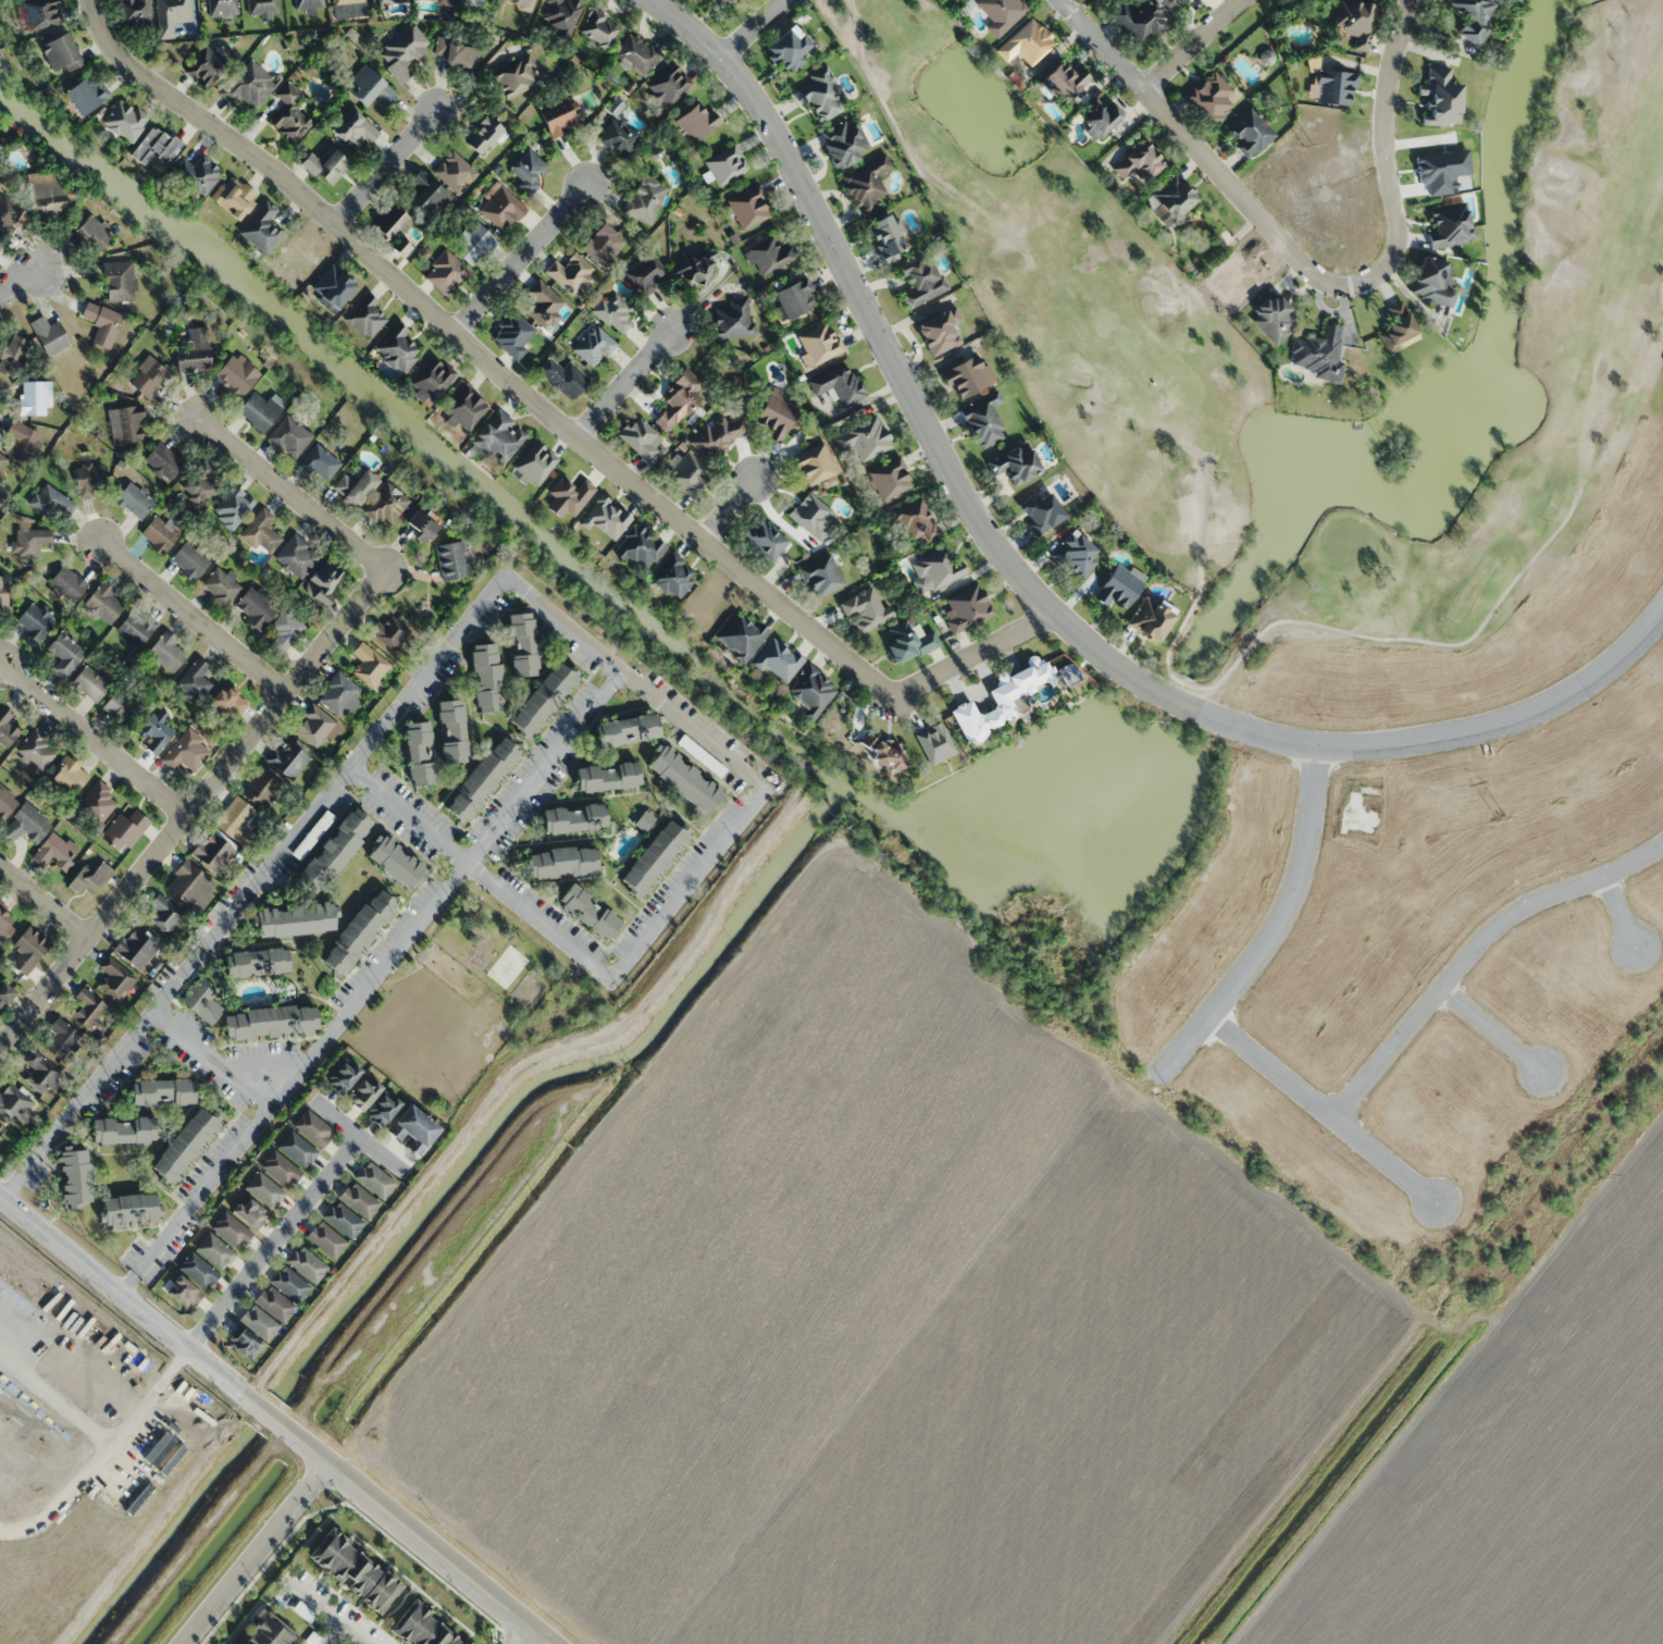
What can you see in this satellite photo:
building: (474, 0)
building: (392, 1)
building: (1167, 1)
building: (446, 2)
building: (519, 2)
building: (731, 2)
building: (309, 4)
building: (261, 7)
building: (222, 8)
building: (348, 8)
building: (135, 12)
building: (1000, 13)
building: (172, 14)
building: (42, 15)
building: (562, 15)
building: (1473, 17)
building: (1138, 21)
building: (1354, 21)
road: (758, 28)
building: (599, 29)
building: (1026, 42)
road: (1194, 45)
building: (787, 49)
building: (402, 51)
building: (60, 52)
building: (459, 53)
building: (636, 54)
building: (206, 66)
building: (517, 76)
building: (1062, 83)
building: (248, 85)
building: (669, 85)
building: (1335, 86)
building: (368, 87)
building: (85, 94)
building: (822, 95)
road: (879, 95)
building: (1209, 96)
building: (1443, 97)
building: (289, 114)
building: (556, 116)
building: (1099, 119)
building: (125, 121)
building: (696, 121)
building: (355, 132)
building: (1249, 133)
building: (482, 135)
building: (619, 136)
building: (842, 144)
power tower: (1308, 145)
building: (157, 147)
building: (1139, 163)
building: (725, 165)
building: (326, 166)
road: (386, 169)
building: (526, 170)
building: (455, 172)
building: (198, 174)
building: (865, 185)
building: (46, 195)
building: (233, 197)
building: (1171, 197)
building: (430, 198)
building: (645, 199)
building: (499, 208)
building: (748, 208)
building: (9, 212)
building: (1450, 224)
building: (261, 228)
building: (394, 228)
building: (90, 233)
building: (885, 238)
building: (473, 244)
building: (603, 244)
building: (770, 256)
road: (521, 260)
building: (694, 267)
road: (1305, 270)
building: (445, 273)
building: (571, 273)
building: (646, 273)
road: (22, 279)
building: (119, 281)
building: (920, 281)
building: (1431, 282)
building: (331, 287)
building: (795, 298)
building: (544, 305)
building: (613, 311)
building: (367, 317)
building: (1273, 317)
building: (734, 320)
building: (101, 324)
building: (1397, 330)
building: (940, 332)
building: (512, 334)
building: (48, 335)
building: (818, 344)
building: (594, 346)
building: (396, 348)
building: (193, 353)
building: (1320, 353)
building: (13, 356)
building: (236, 374)
building: (967, 376)
building: (563, 378)
building: (148, 379)
building: (432, 380)
building: (839, 384)
road: (624, 386)
building: (34, 398)
building: (679, 399)
building: (464, 408)
building: (261, 410)
road: (547, 415)
building: (774, 417)
building: (983, 421)
building: (125, 425)
building: (289, 436)
building: (498, 437)
building: (641, 437)
building: (717, 437)
building: (864, 440)
building: (21, 442)
power tower: (1397, 458)
building: (2, 460)
building: (163, 460)
building: (320, 463)
building: (1014, 463)
building: (534, 465)
building: (815, 465)
building: (687, 474)
building: (88, 479)
building: (890, 480)
building: (199, 485)
building: (355, 486)
road: (288, 489)
building: (134, 500)
building: (50, 502)
building: (386, 506)
building: (233, 508)
road: (728, 511)
building: (1042, 512)
building: (811, 517)
building: (605, 518)
building: (915, 521)
building: (261, 533)
building: (159, 535)
building: (764, 540)
building: (29, 542)
building: (638, 547)
building: (1073, 555)
building: (297, 556)
building: (189, 560)
building: (452, 560)
building: (935, 572)
building: (672, 577)
building: (821, 577)
building: (323, 582)
building: (67, 583)
building: (221, 586)
building: (1119, 586)
road: (1032, 590)
building: (3, 592)
building: (103, 604)
building: (965, 608)
building: (256, 609)
building: (865, 611)
road: (193, 615)
building: (35, 620)
building: (1150, 620)
road: (1299, 620)
building: (136, 627)
building: (284, 631)
building: (390, 633)
building: (741, 636)
building: (908, 642)
building: (522, 643)
building: (66, 653)
building: (166, 653)
building: (777, 660)
building: (369, 664)
building: (486, 677)
building: (195, 681)
building: (91, 682)
building: (811, 693)
building: (338, 694)
building: (544, 697)
building: (1001, 701)
building: (227, 703)
building: (123, 707)
building: (314, 728)
building: (8, 729)
building: (626, 729)
building: (451, 730)
building: (153, 732)
road: (95, 737)
building: (931, 745)
building: (37, 750)
building: (187, 752)
building: (419, 752)
building: (882, 753)
building: (702, 754)
building: (287, 761)
building: (607, 775)
building: (66, 777)
building: (482, 778)
building: (684, 778)
road: (757, 787)
building: (261, 788)
building: (5, 802)
building: (97, 804)
road: (193, 808)
building: (574, 817)
power tower: (1500, 817)
building: (644, 819)
building: (236, 821)
building: (26, 824)
building: (124, 829)
building: (312, 833)
building: (334, 850)
building: (54, 851)
building: (212, 852)
building: (654, 856)
building: (395, 861)
building: (562, 861)
building: (87, 879)
building: (190, 886)
road: (44, 900)
building: (588, 910)
road: (1618, 911)
building: (162, 914)
building: (295, 918)
building: (4, 925)
road: (1275, 928)
building: (358, 930)
road: (1472, 948)
building: (135, 949)
building: (27, 951)
building: (256, 962)
building: (115, 979)
road: (370, 982)
road: (175, 984)
building: (4, 996)
building: (201, 999)
building: (88, 1009)
building: (270, 1021)
road: (1489, 1029)
building: (61, 1039)
road: (212, 1058)
building: (39, 1072)
building: (343, 1076)
building: (163, 1090)
building: (363, 1093)
building: (14, 1104)
building: (383, 1109)
road: (1321, 1110)
building: (123, 1128)
building: (312, 1128)
building: (411, 1130)
road: (359, 1136)
building: (185, 1144)
building: (297, 1149)
building: (280, 1169)
power tower: (1604, 1174)
building: (75, 1176)
building: (374, 1181)
building: (264, 1190)
building: (358, 1200)
building: (129, 1208)
building: (248, 1212)
building: (343, 1220)
building: (231, 1231)
building: (325, 1240)
road: (274, 1244)
building: (214, 1251)
building: (307, 1264)
building: (198, 1270)
building: (289, 1284)
building: (182, 1293)
building: (274, 1303)
building: (259, 1322)
road: (163, 1331)
crop: (882, 1332)
building: (243, 1344)
crop: (78, 1444)
road: (255, 1554)
road: (436, 1554)
building: (352, 1570)
building: (420, 1628)
building: (266, 1632)

